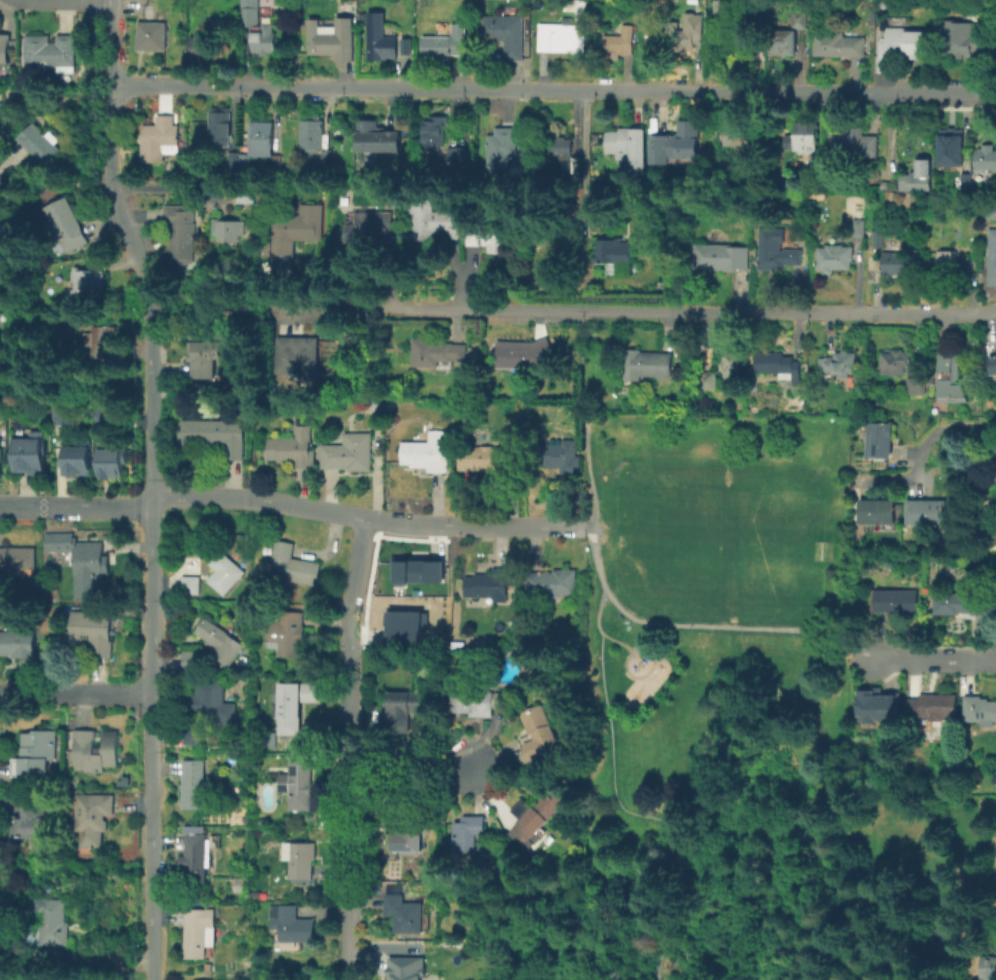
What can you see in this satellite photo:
building: (755, 6)
building: (576, 8)
building: (724, 12)
building: (798, 19)
building: (215, 24)
building: (258, 27)
building: (504, 33)
building: (379, 34)
building: (151, 35)
building: (331, 35)
building: (682, 35)
building: (560, 37)
building: (962, 38)
building: (619, 41)
building: (782, 42)
building: (445, 43)
building: (837, 44)
building: (403, 45)
building: (903, 45)
building: (199, 46)
building: (4, 50)
building: (51, 51)
road: (553, 90)
building: (220, 125)
building: (435, 131)
building: (312, 132)
building: (738, 135)
building: (805, 136)
building: (377, 137)
building: (159, 138)
building: (676, 139)
building: (40, 142)
building: (628, 143)
building: (852, 144)
building: (261, 145)
building: (950, 147)
building: (502, 148)
building: (562, 150)
building: (456, 154)
building: (986, 157)
building: (328, 158)
building: (234, 159)
building: (920, 174)
building: (964, 178)
building: (812, 179)
road: (51, 183)
road: (108, 184)
road: (172, 186)
road: (2, 187)
building: (249, 195)
building: (638, 197)
building: (992, 210)
building: (437, 219)
building: (68, 224)
building: (858, 227)
building: (231, 228)
building: (370, 228)
building: (299, 230)
building: (183, 231)
building: (492, 235)
building: (878, 237)
building: (775, 247)
building: (270, 248)
road: (138, 250)
building: (614, 250)
building: (720, 256)
building: (990, 257)
building: (834, 258)
building: (900, 262)
building: (951, 263)
building: (93, 282)
road: (206, 308)
road: (627, 310)
building: (107, 340)
building: (298, 351)
building: (438, 351)
building: (526, 356)
building: (204, 358)
building: (894, 361)
building: (732, 362)
building: (778, 364)
building: (838, 364)
building: (992, 364)
building: (647, 365)
building: (951, 378)
building: (709, 379)
building: (915, 385)
building: (63, 415)
building: (105, 416)
building: (379, 419)
road: (586, 419)
building: (878, 438)
building: (216, 440)
road: (924, 446)
building: (293, 448)
building: (348, 452)
building: (426, 452)
building: (31, 454)
building: (483, 456)
building: (557, 456)
building: (1, 457)
building: (77, 461)
building: (110, 461)
road: (257, 498)
road: (75, 508)
building: (876, 511)
building: (926, 512)
road: (404, 522)
road: (514, 525)
park: (719, 545)
building: (18, 557)
building: (291, 567)
building: (87, 569)
building: (417, 569)
building: (224, 572)
building: (190, 583)
road: (353, 583)
building: (552, 583)
building: (489, 585)
building: (894, 600)
building: (960, 603)
road: (698, 625)
building: (407, 627)
building: (92, 630)
road: (596, 630)
building: (288, 633)
building: (17, 643)
building: (221, 643)
road: (630, 653)
building: (192, 659)
road: (935, 660)
road: (75, 694)
building: (412, 699)
building: (212, 701)
building: (480, 701)
building: (292, 704)
building: (875, 706)
building: (933, 706)
building: (979, 709)
park: (707, 711)
building: (540, 731)
building: (193, 734)
building: (267, 739)
road: (151, 742)
building: (96, 749)
building: (37, 753)
road: (415, 765)
building: (300, 782)
building: (192, 784)
building: (542, 808)
road: (634, 813)
road: (351, 815)
building: (93, 817)
building: (34, 819)
building: (408, 833)
building: (469, 833)
building: (195, 858)
building: (299, 858)
building: (405, 912)
building: (51, 922)
building: (290, 925)
building: (199, 931)
building: (991, 966)
building: (207, 967)
building: (406, 967)
building: (971, 975)
building: (194, 979)

